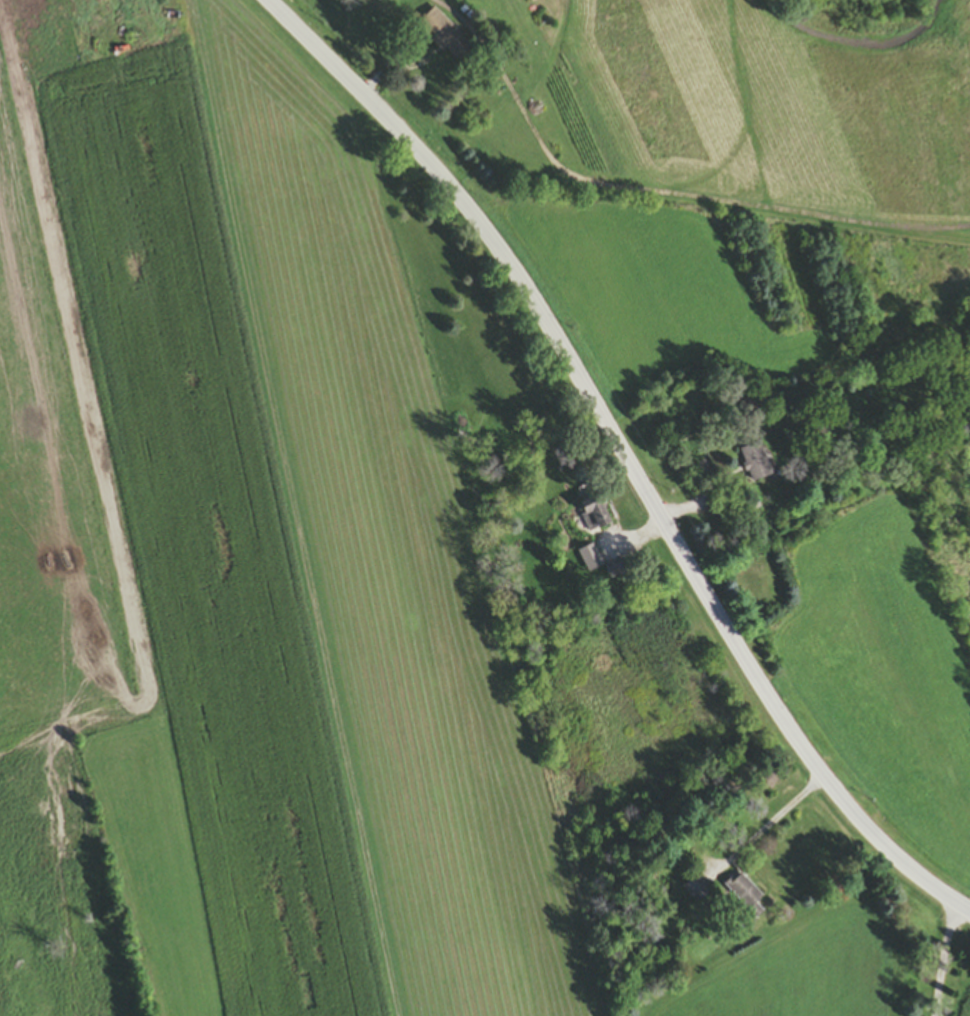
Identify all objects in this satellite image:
building: (378, 0)
building: (444, 37)
road: (621, 458)
building: (696, 460)
building: (755, 463)
building: (594, 515)
building: (591, 560)
building: (616, 572)
road: (761, 824)
building: (696, 891)
road: (945, 959)

